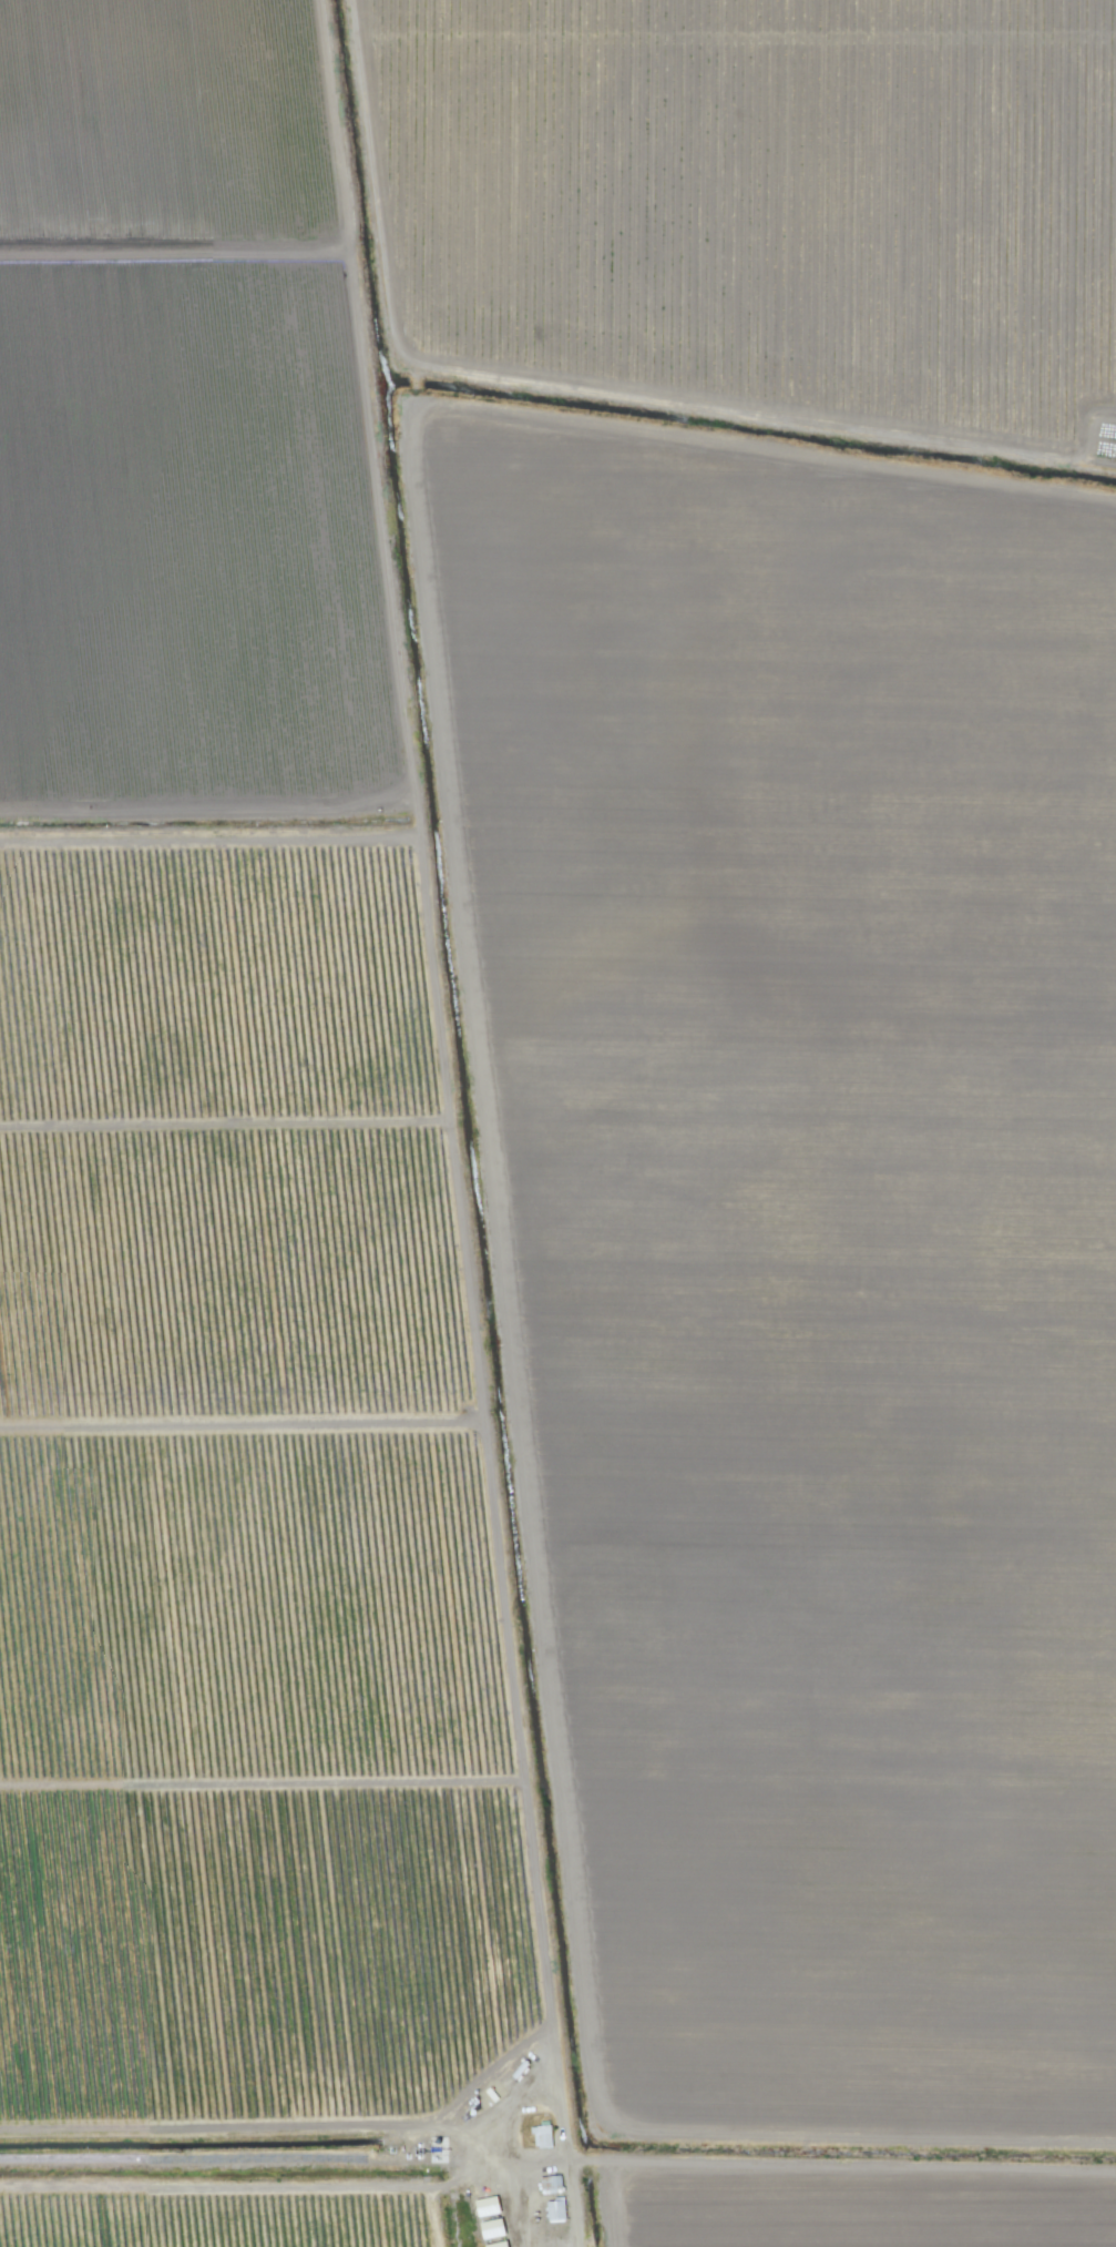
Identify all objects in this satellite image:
building: (530, 2022)
building: (547, 2185)
building: (556, 2210)
building: (503, 2212)

